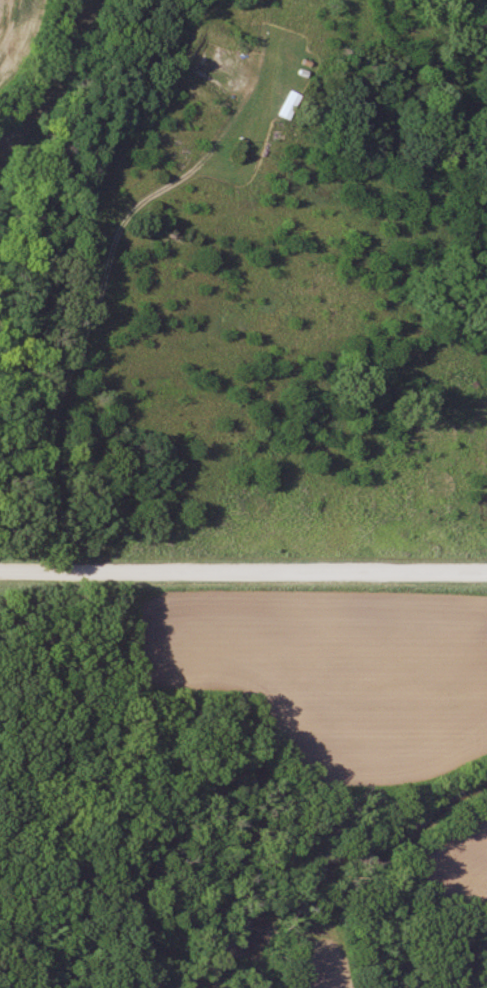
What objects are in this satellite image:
river: (60, 80)
road: (243, 570)
river: (183, 806)
river: (344, 867)

